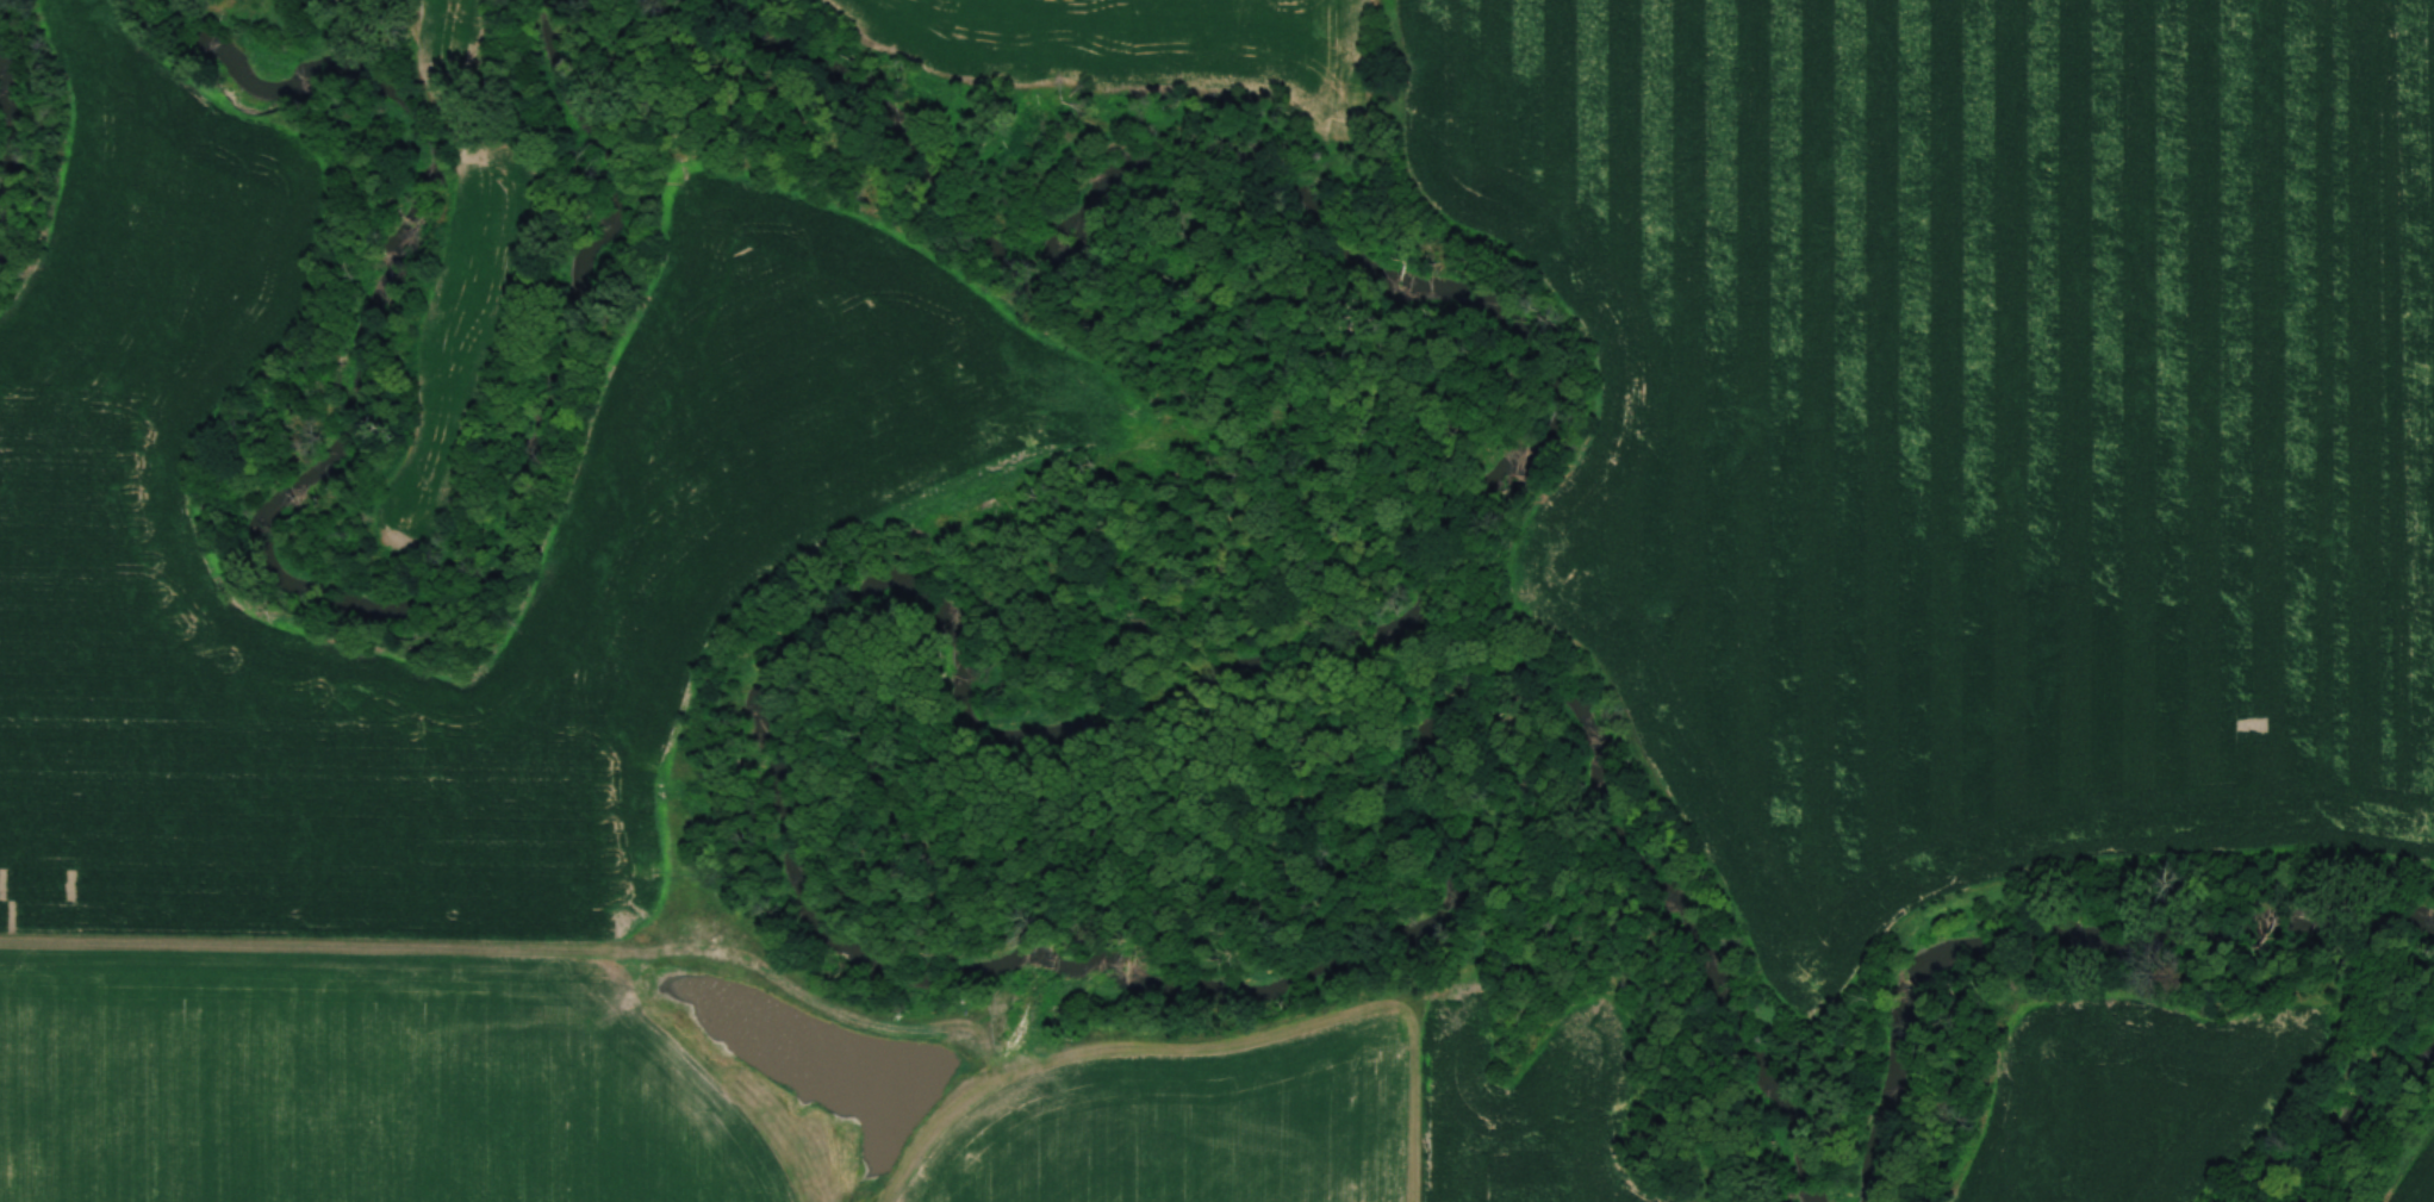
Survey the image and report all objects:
river: (4, 151)
river: (273, 579)
river: (870, 603)
river: (2065, 949)
river: (2367, 1131)

